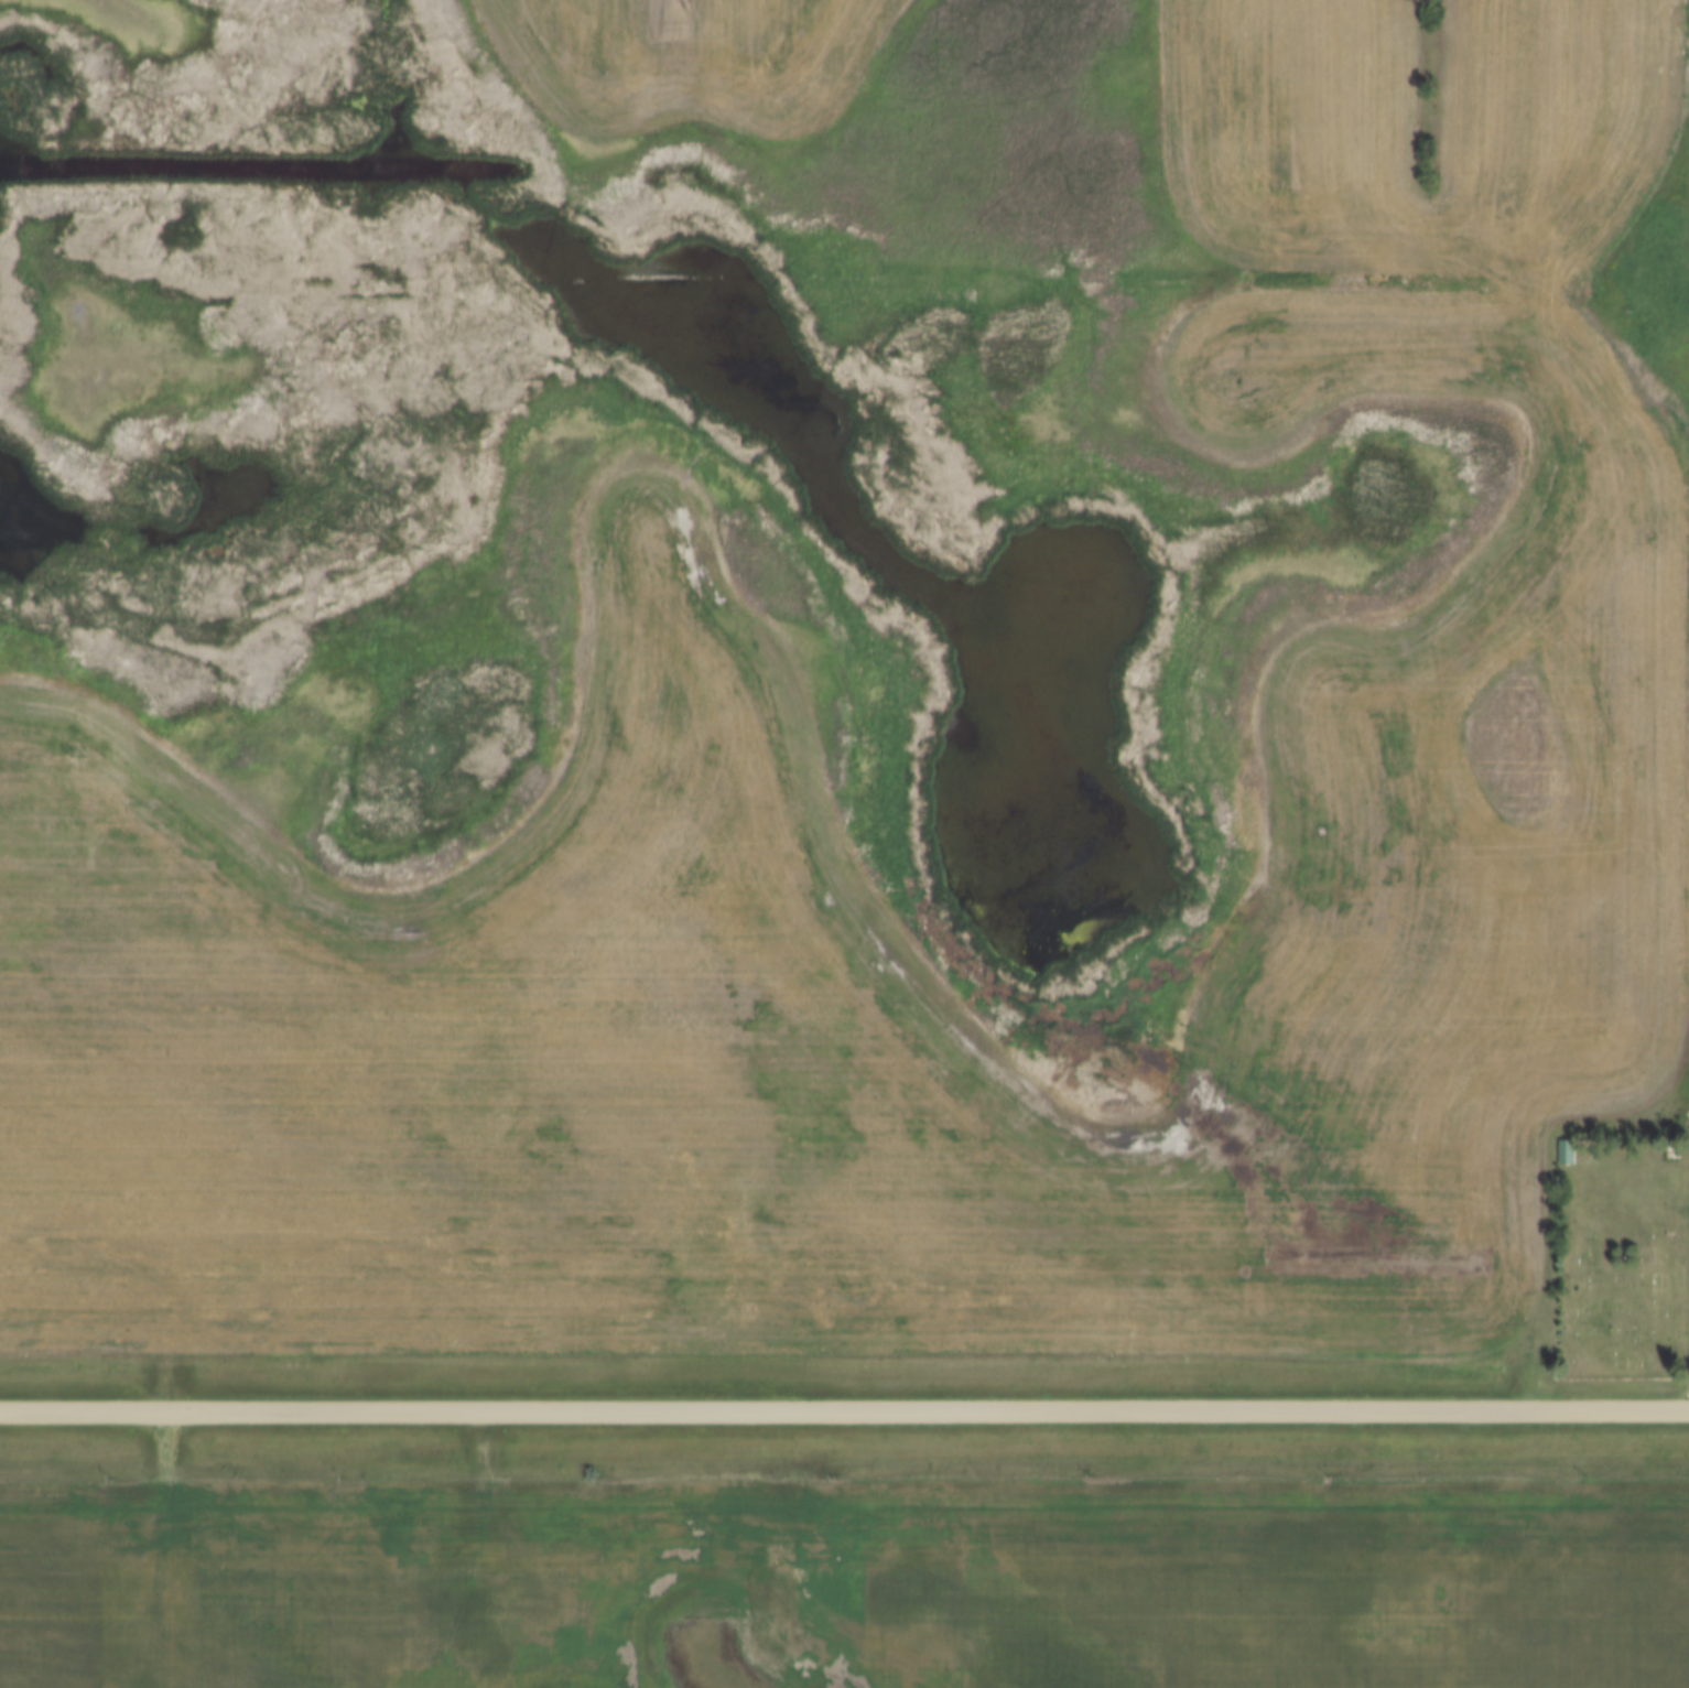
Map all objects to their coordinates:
road: (844, 1413)

